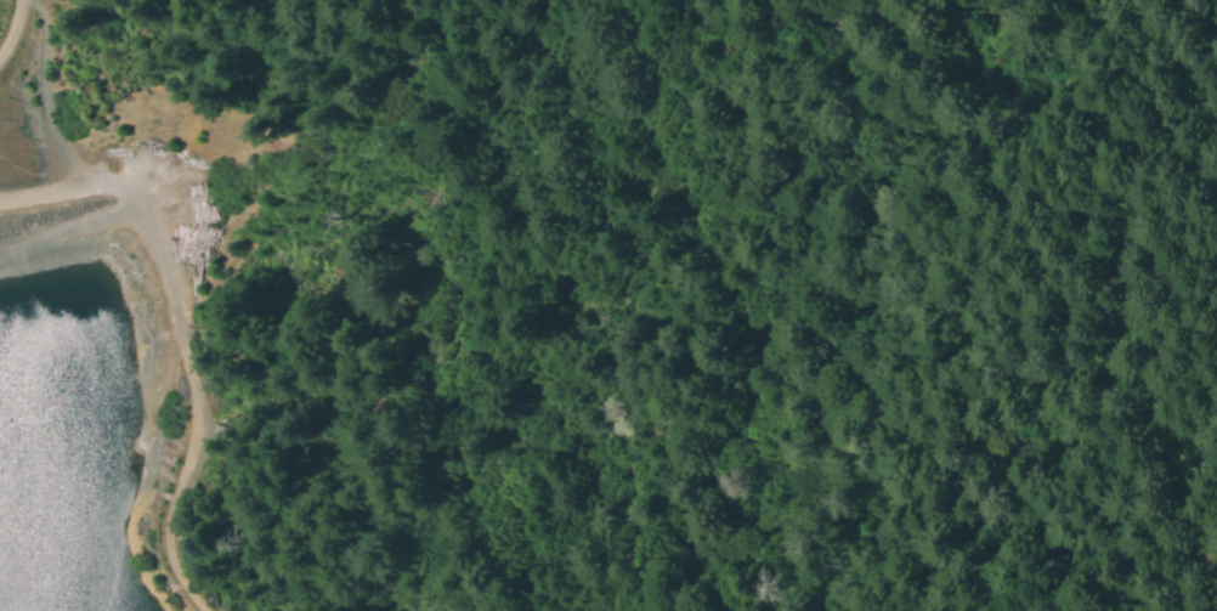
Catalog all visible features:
road: (13, 30)
road: (2, 47)
road: (51, 95)
dam: (112, 289)
road: (1128, 298)
road: (183, 341)

